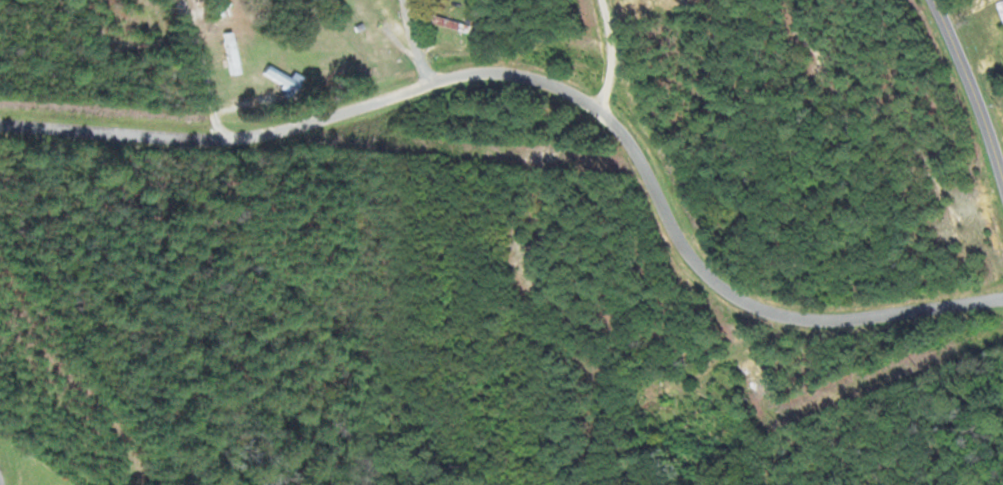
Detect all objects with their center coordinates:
building: (1001, 5)
building: (220, 7)
road: (417, 43)
building: (232, 51)
road: (207, 69)
road: (544, 81)
road: (972, 82)
building: (506, 311)
building: (706, 413)
road: (1, 478)

